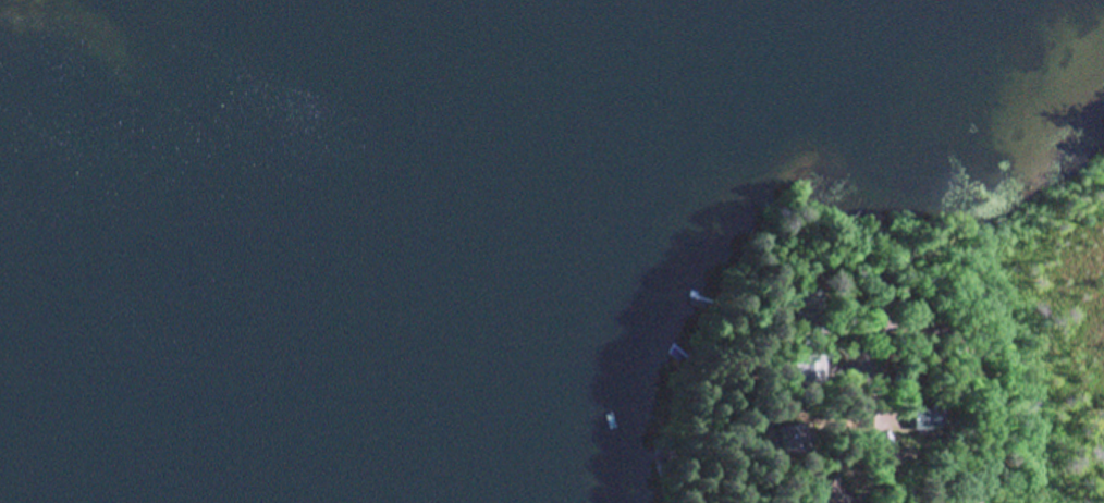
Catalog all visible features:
building: (880, 300)
building: (807, 307)
building: (807, 366)
building: (899, 378)
building: (919, 416)
building: (792, 437)
building: (664, 451)
building: (829, 489)

